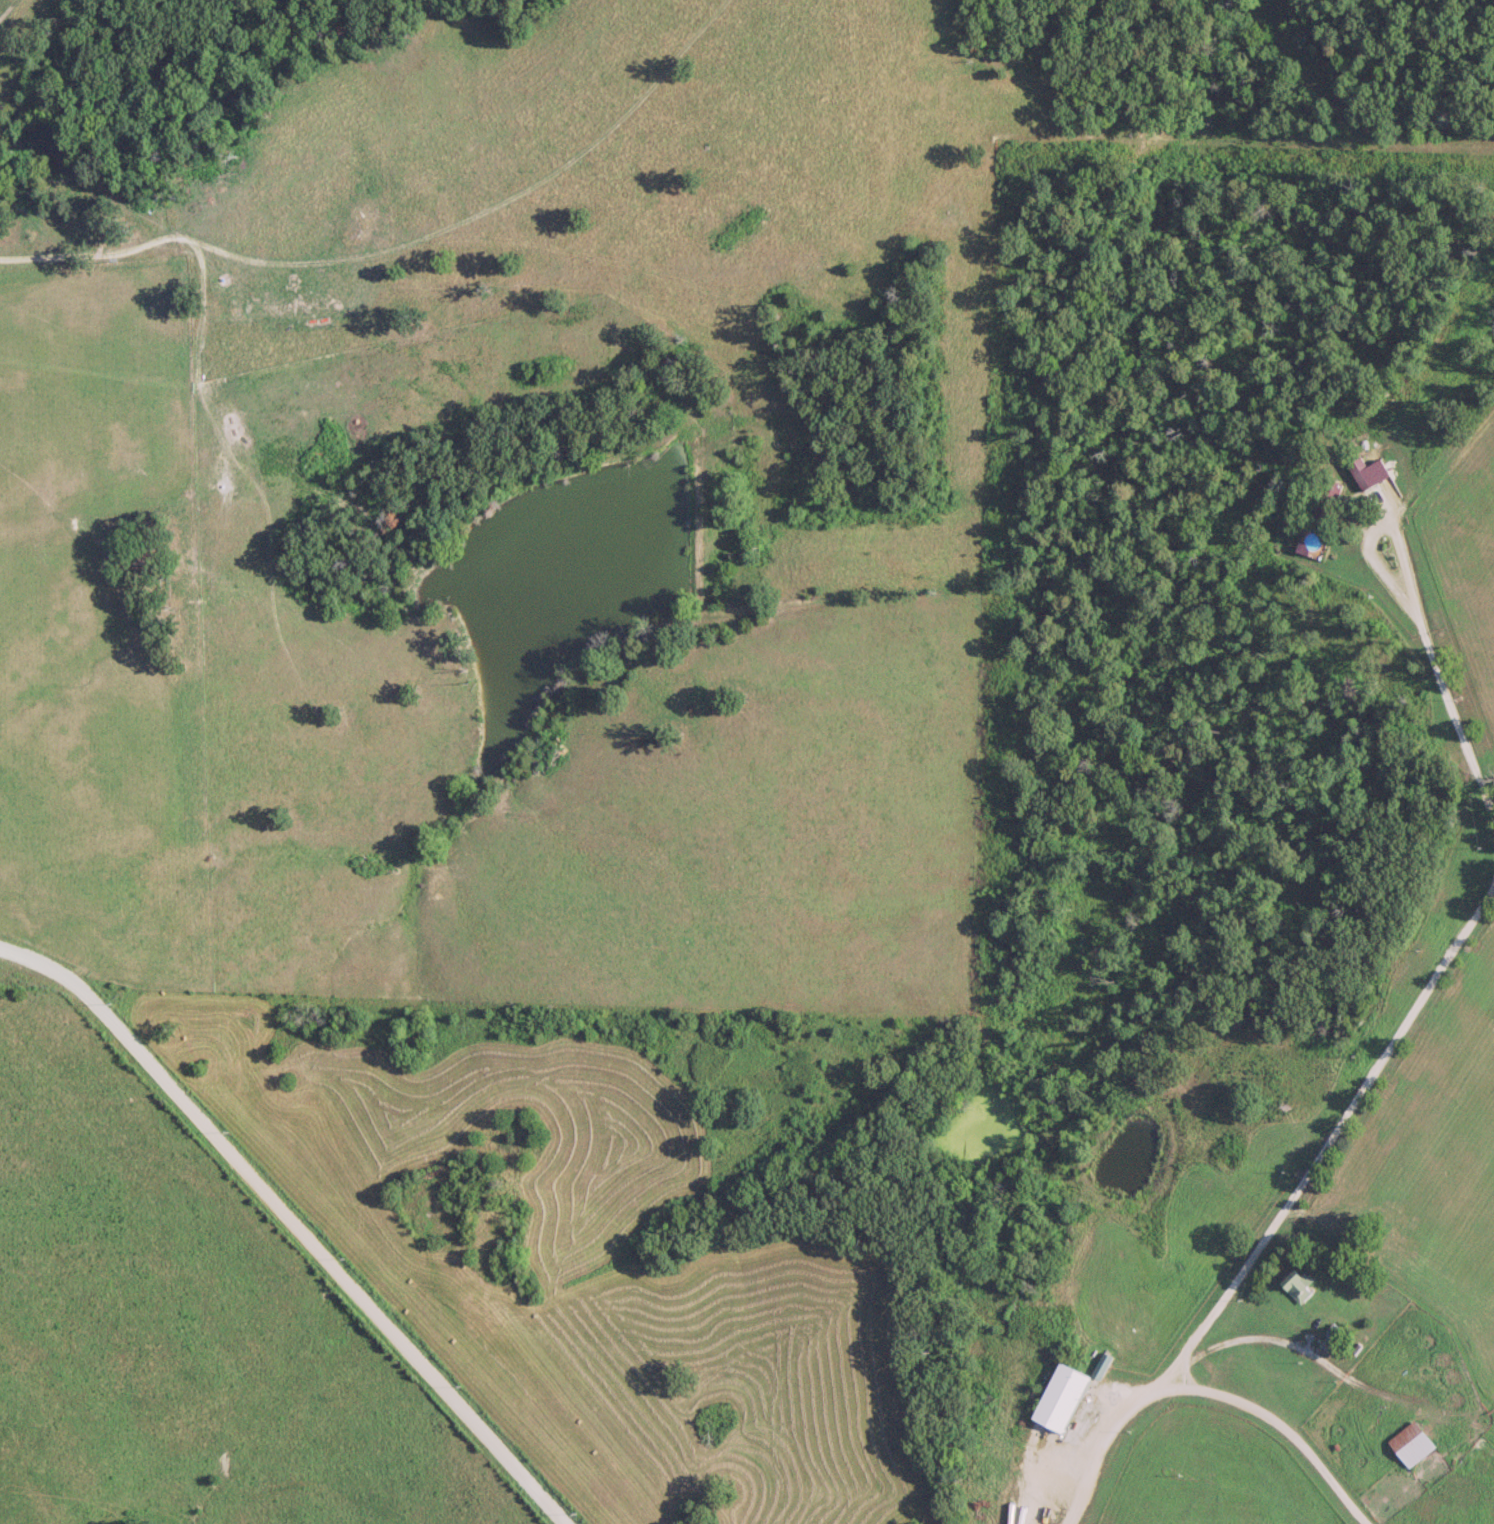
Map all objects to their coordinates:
building: (1363, 478)
road: (1372, 528)
road: (1447, 706)
road: (1284, 1203)
road: (297, 1262)
building: (1295, 1284)
building: (1061, 1397)
road: (1278, 1424)
building: (1410, 1443)

